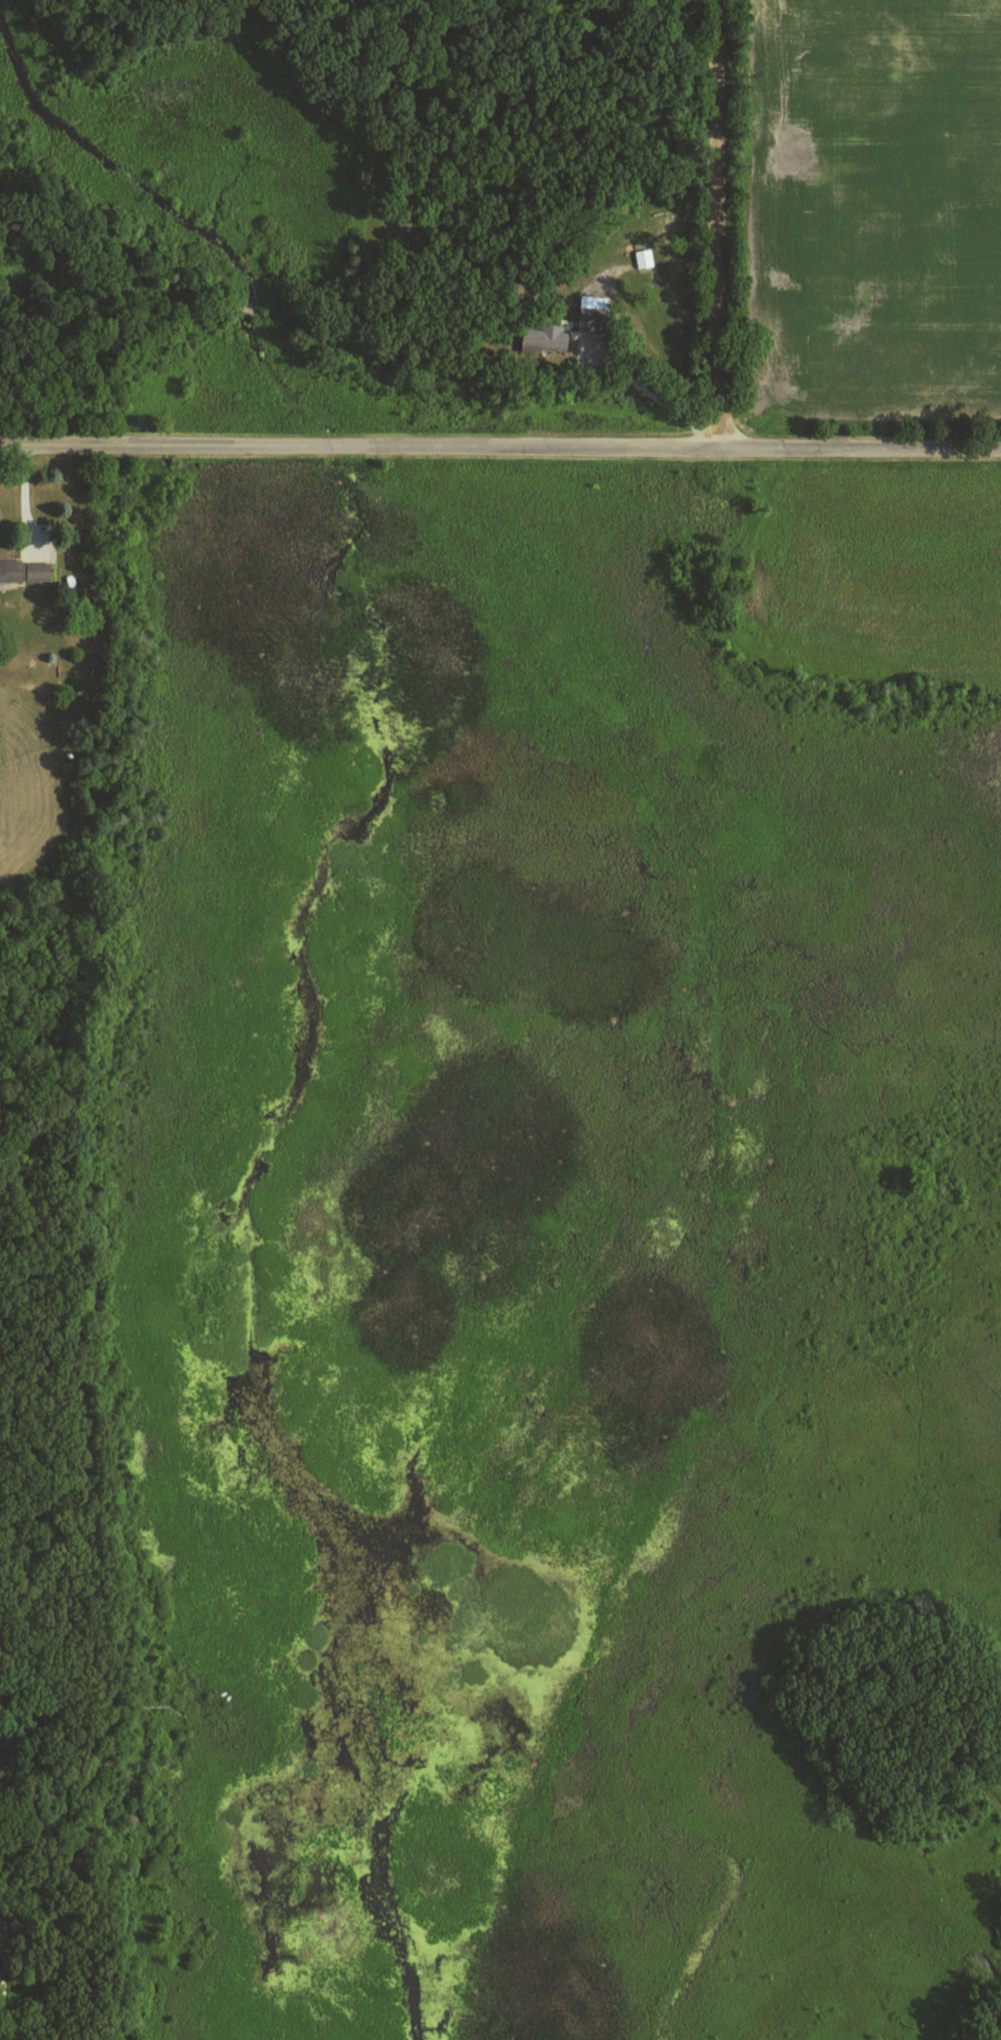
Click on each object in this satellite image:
road: (716, 226)
building: (644, 258)
building: (593, 313)
road: (500, 451)
building: (11, 571)
building: (38, 571)
building: (0, 1954)

